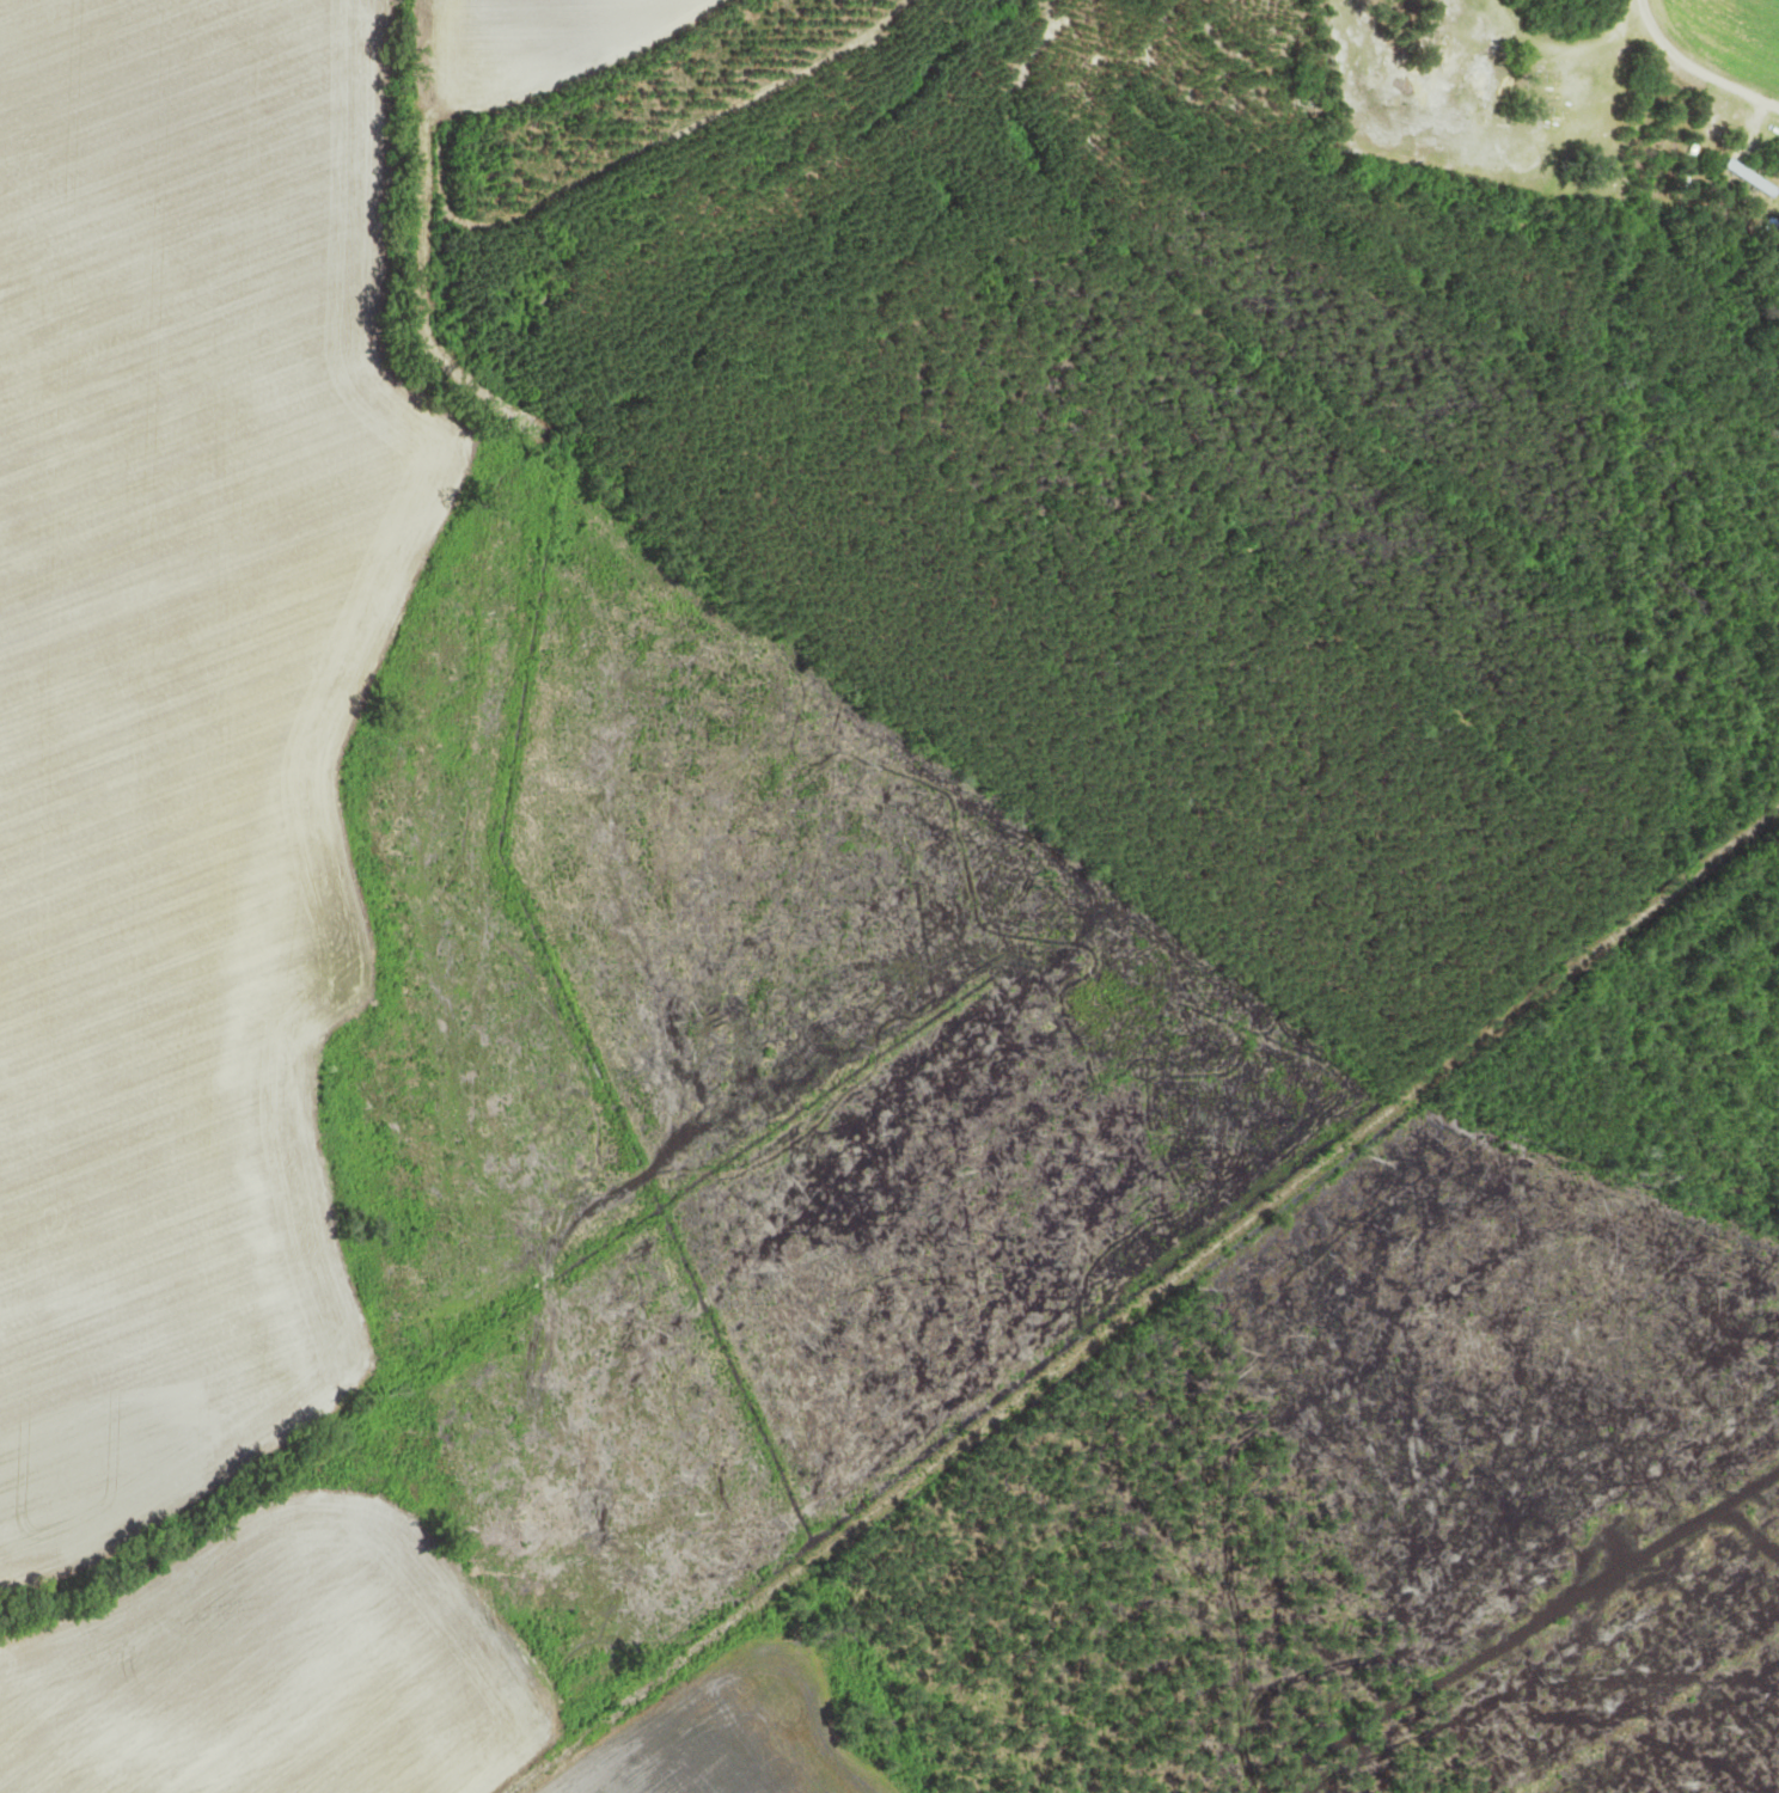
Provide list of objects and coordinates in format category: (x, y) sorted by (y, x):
road: (1689, 74)
building: (1749, 184)
railway: (1144, 1298)

